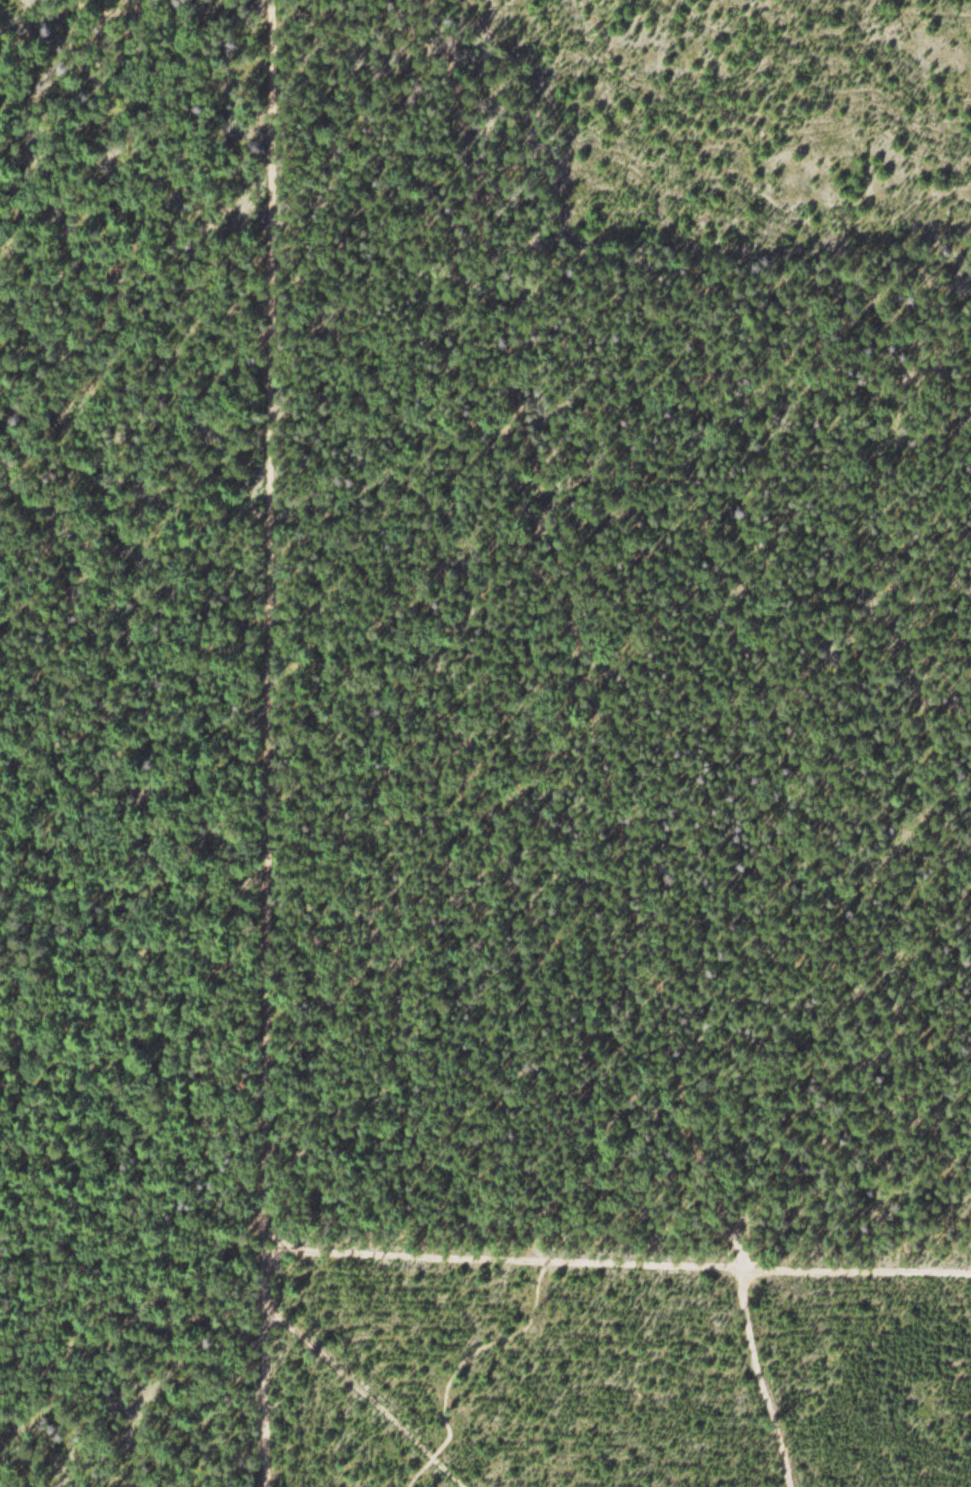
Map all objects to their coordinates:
road: (105, 21)
road: (565, 624)
road: (265, 743)
road: (472, 772)
road: (497, 1248)
road: (851, 1261)
road: (759, 1371)
road: (349, 1392)

